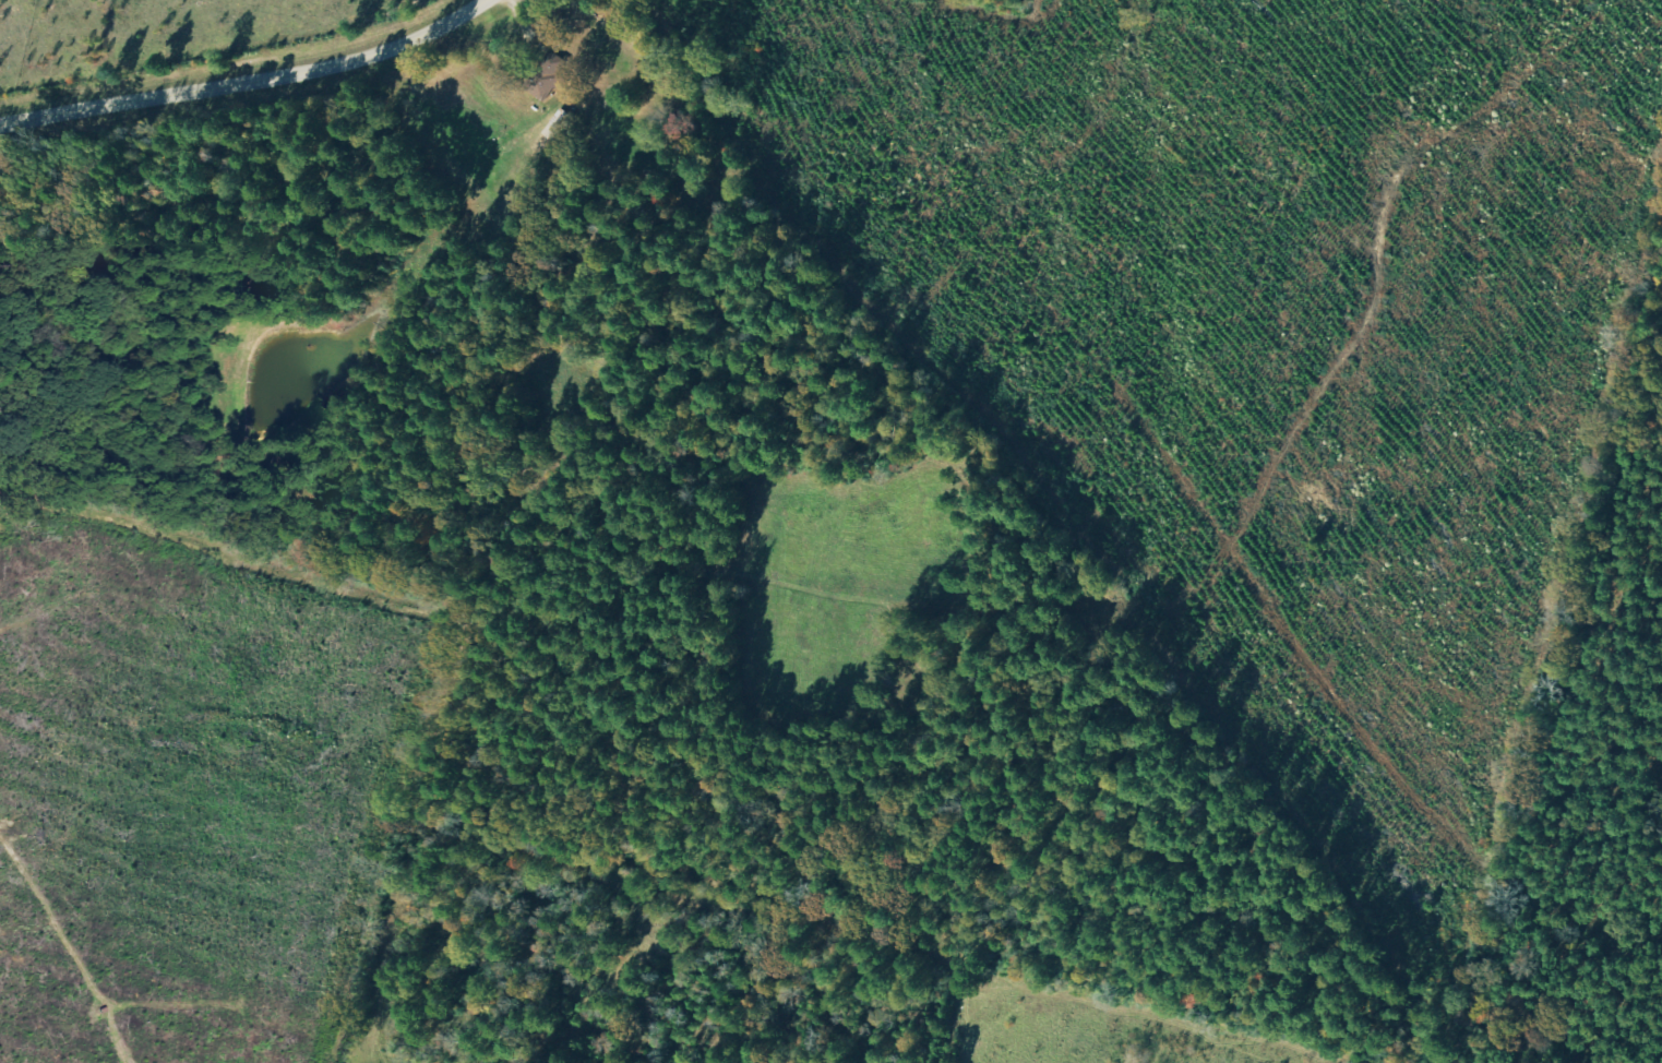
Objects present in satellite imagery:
road: (243, 79)

